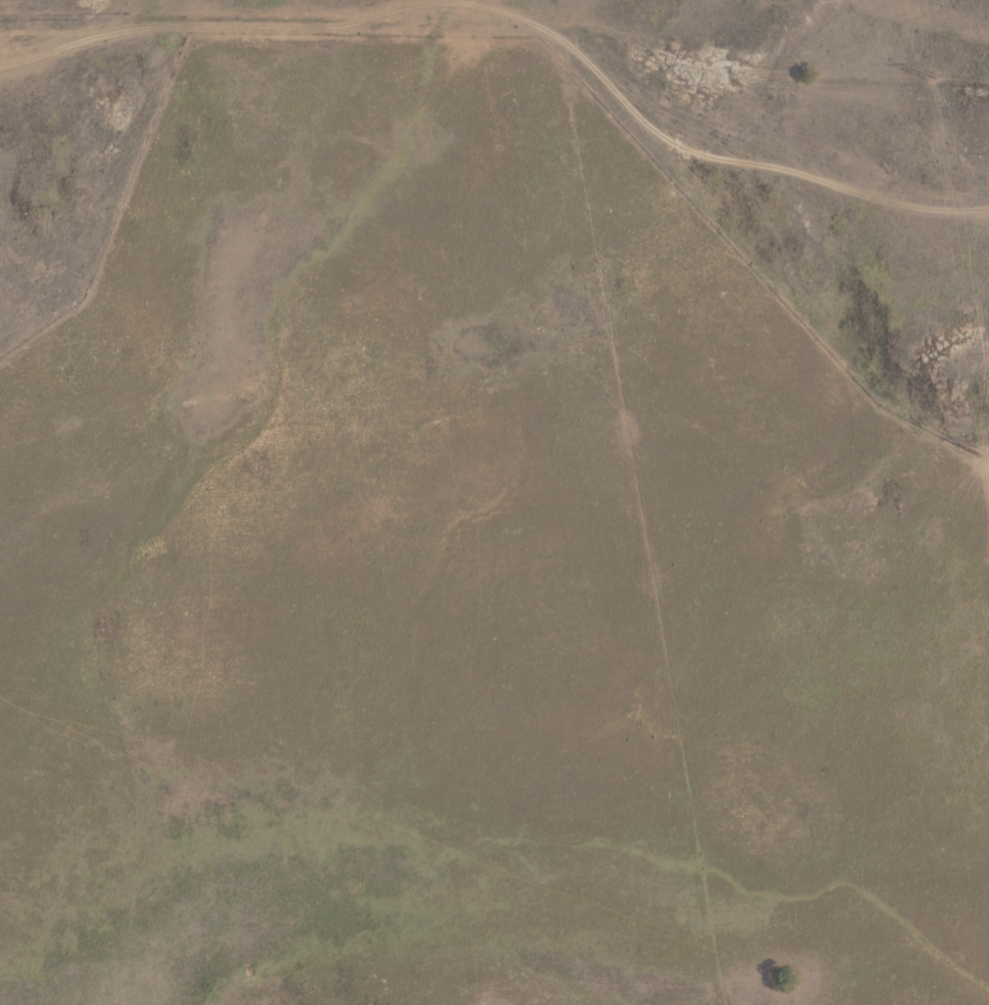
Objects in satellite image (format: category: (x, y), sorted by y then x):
road: (515, 19)
power tower: (937, 81)
power tower: (986, 452)

